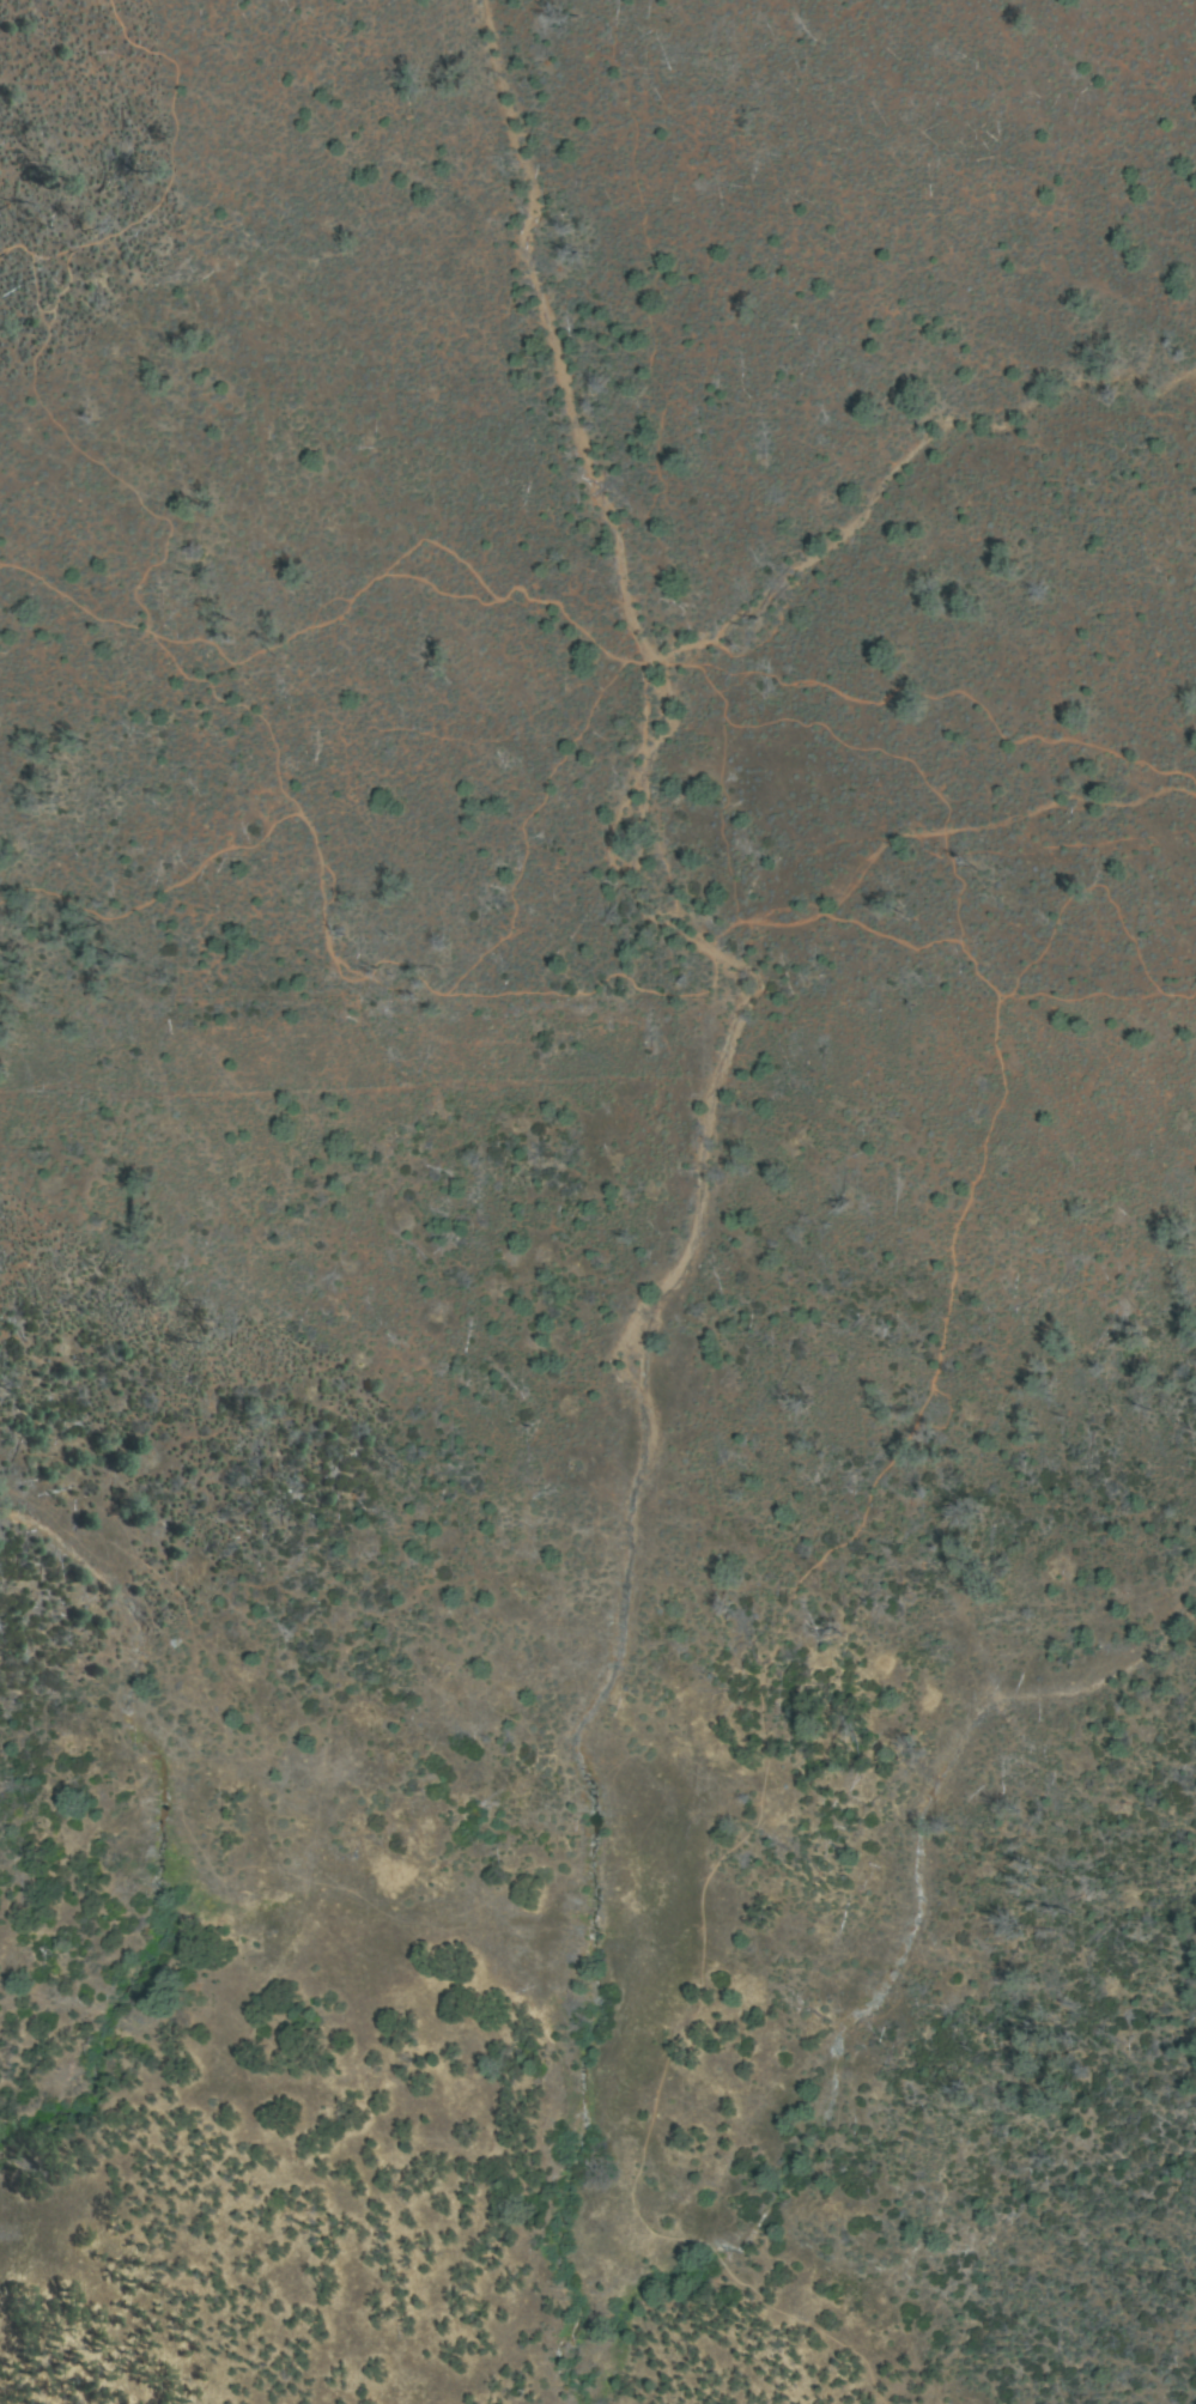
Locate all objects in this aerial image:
road: (964, 1195)

